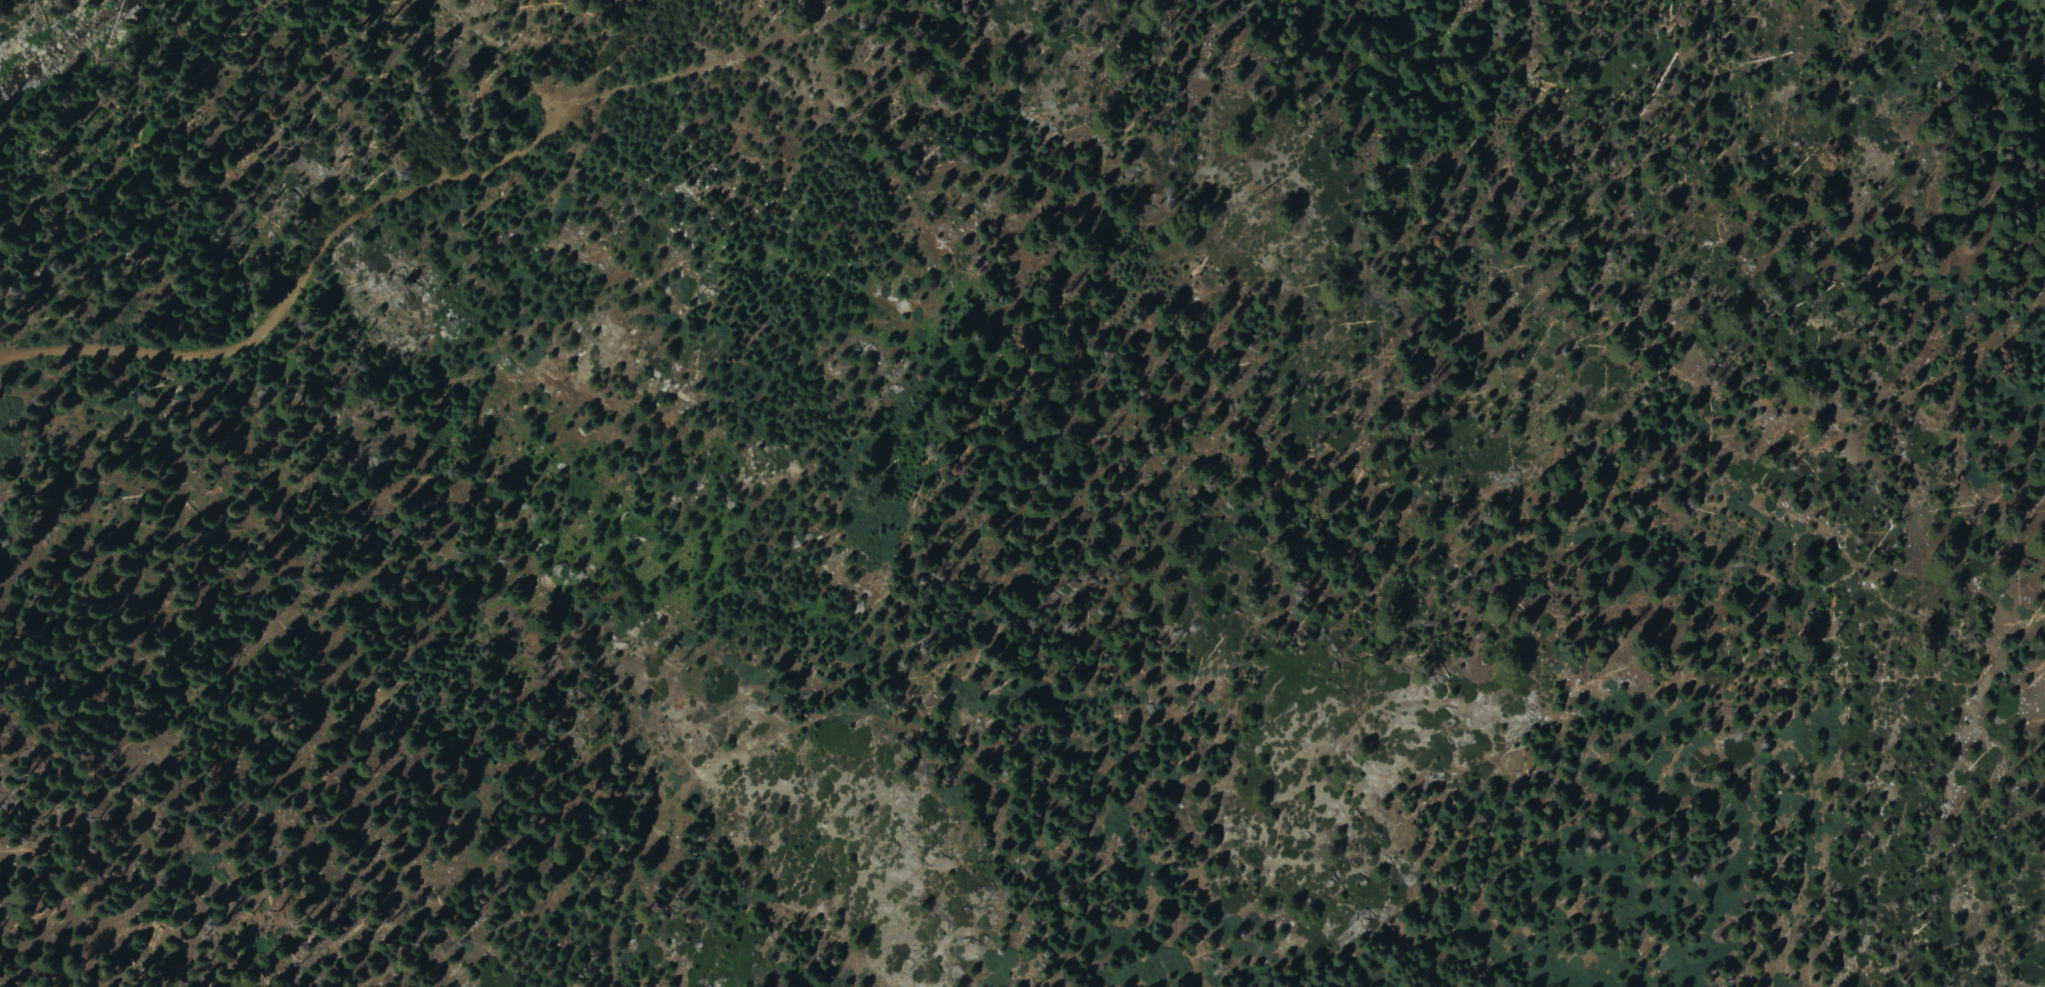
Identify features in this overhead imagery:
road: (355, 219)

